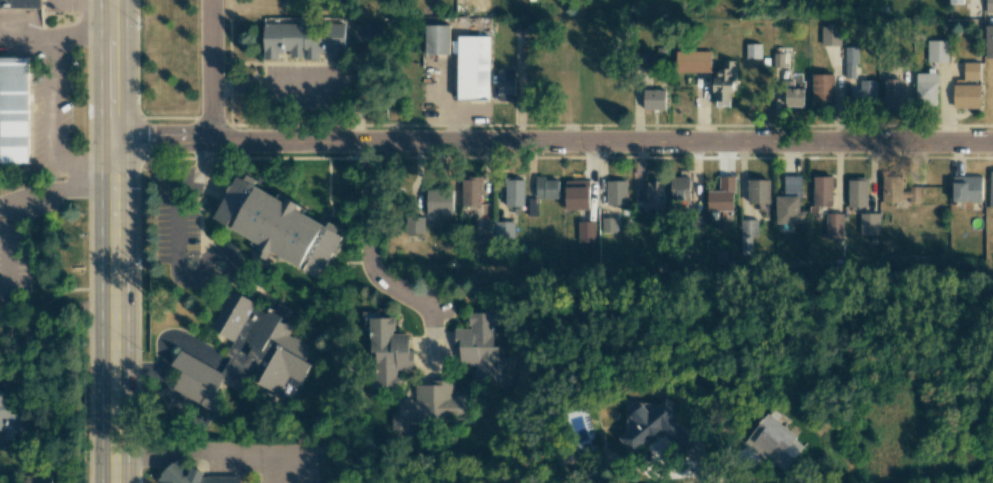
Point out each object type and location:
building: (955, 1)
building: (20, 4)
building: (478, 6)
building: (989, 6)
road: (56, 33)
building: (367, 33)
building: (830, 35)
building: (437, 39)
building: (303, 40)
building: (988, 41)
building: (752, 51)
building: (937, 51)
building: (569, 52)
building: (693, 61)
building: (545, 62)
building: (850, 62)
building: (472, 68)
road: (209, 70)
building: (971, 71)
building: (723, 84)
building: (505, 85)
road: (274, 86)
building: (822, 88)
building: (926, 89)
building: (615, 90)
building: (864, 92)
building: (892, 92)
building: (966, 96)
building: (793, 97)
building: (653, 99)
building: (13, 110)
road: (51, 132)
road: (552, 142)
road: (25, 169)
building: (791, 185)
building: (546, 188)
building: (679, 188)
building: (966, 188)
building: (990, 189)
road: (55, 190)
building: (470, 190)
building: (758, 191)
building: (821, 191)
building: (891, 191)
building: (616, 192)
building: (856, 192)
building: (513, 193)
building: (576, 195)
building: (654, 195)
building: (721, 195)
building: (438, 201)
building: (788, 210)
building: (608, 224)
building: (868, 224)
building: (413, 225)
building: (278, 226)
building: (833, 226)
building: (503, 230)
building: (586, 231)
building: (746, 234)
road: (112, 241)
road: (368, 244)
road: (9, 248)
road: (177, 251)
road: (56, 334)
building: (477, 347)
building: (388, 353)
building: (244, 354)
building: (430, 405)
building: (7, 419)
building: (653, 426)
building: (774, 441)
building: (191, 476)
road: (717, 477)
building: (39, 481)

